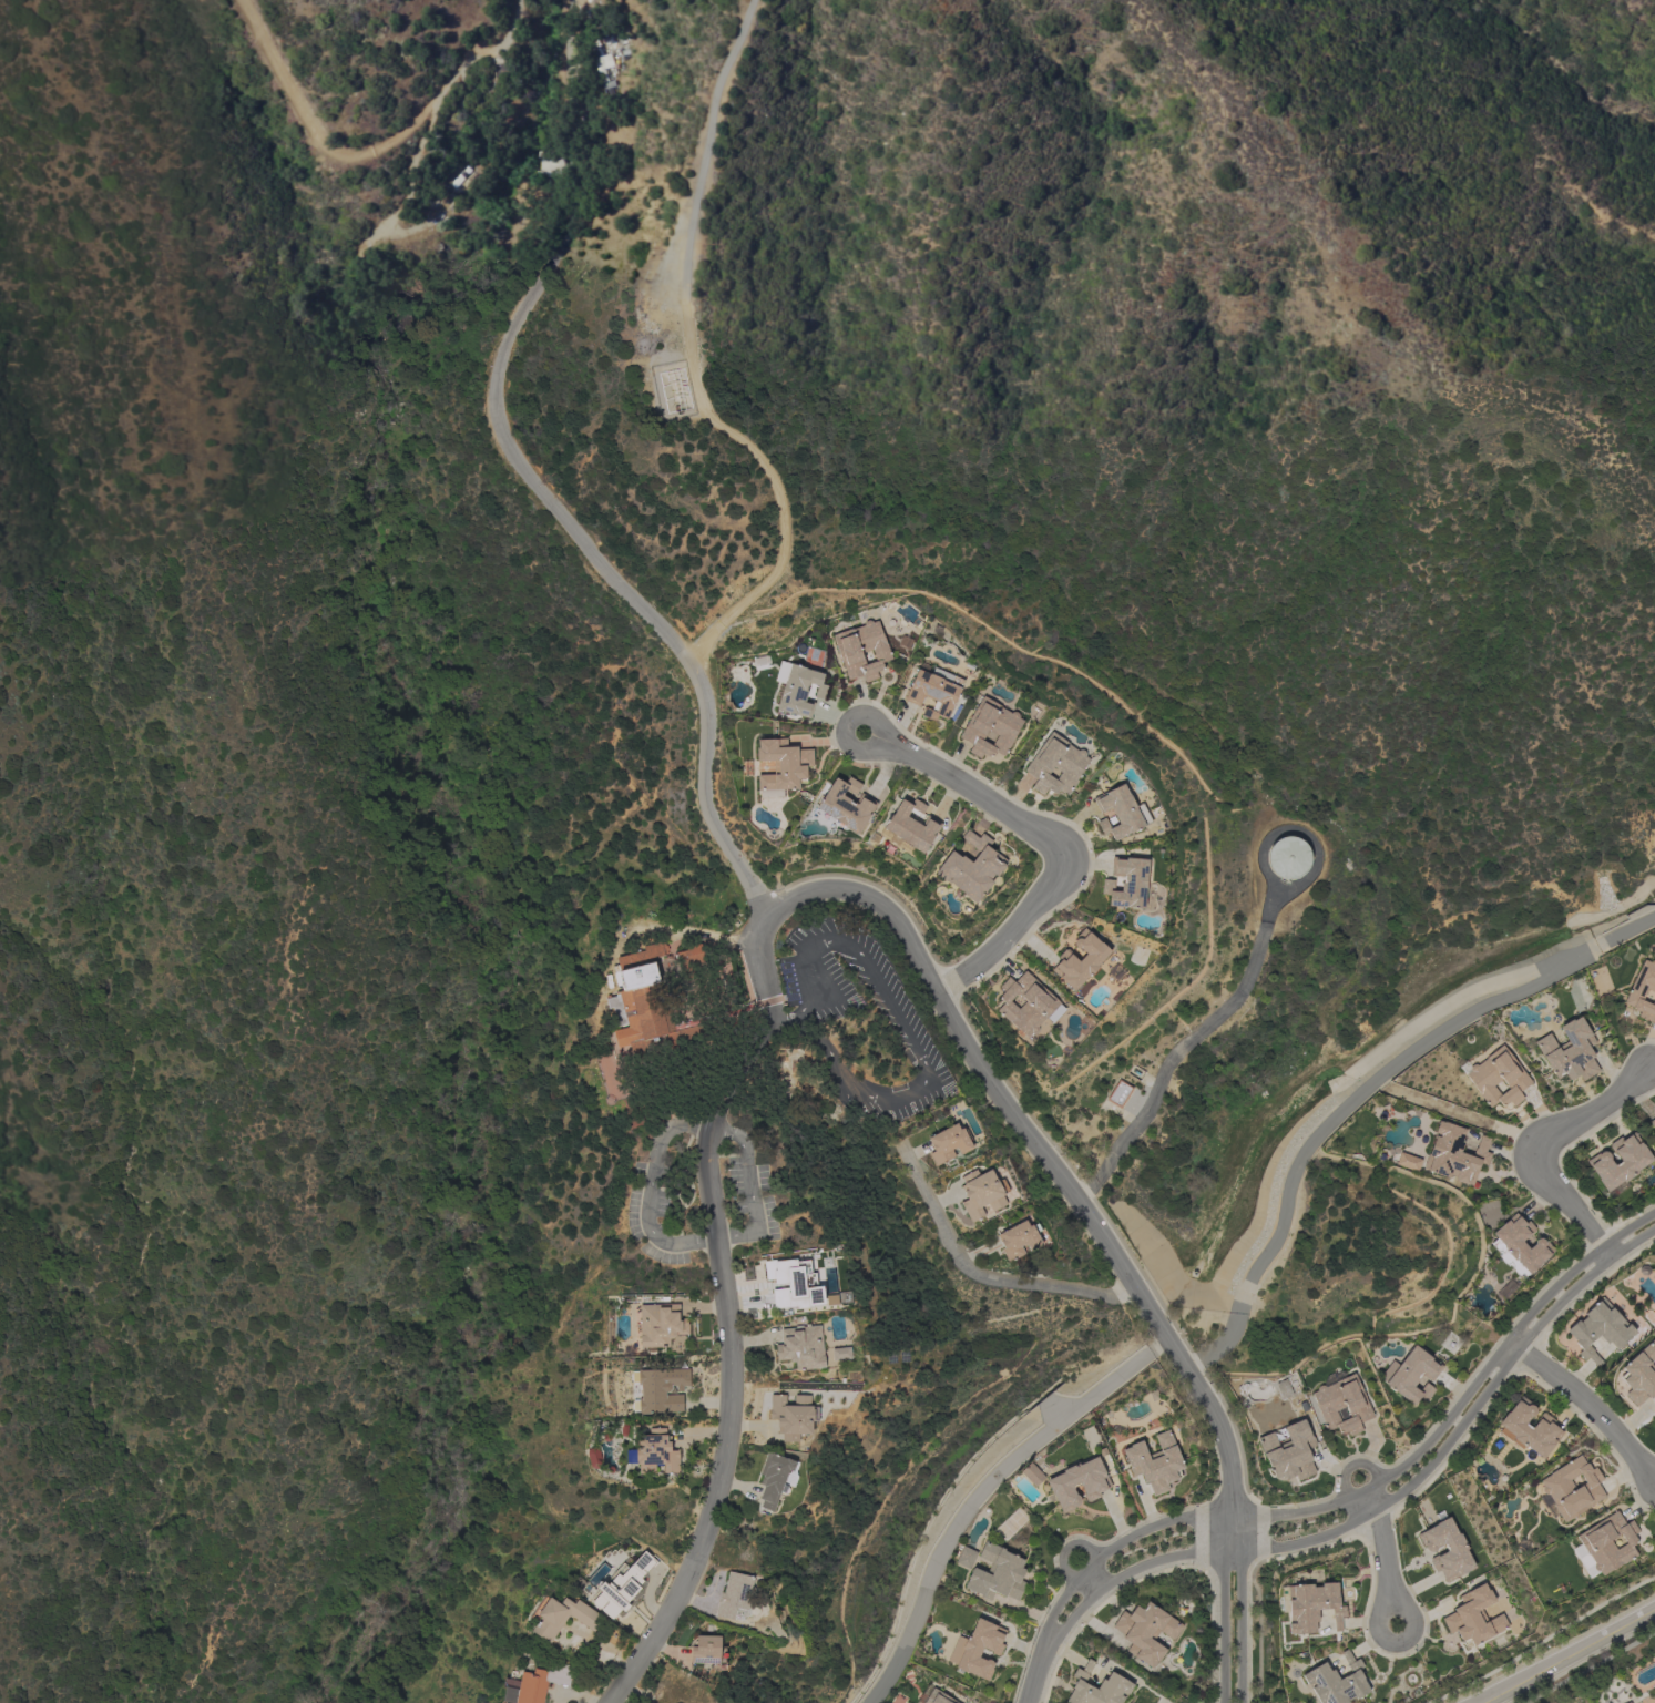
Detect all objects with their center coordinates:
road: (380, 151)
building: (550, 163)
road: (699, 361)
road: (525, 469)
building: (862, 651)
building: (800, 691)
building: (933, 693)
road: (842, 726)
building: (990, 728)
building: (1056, 765)
building: (781, 766)
building: (846, 805)
building: (1121, 813)
building: (911, 826)
road: (1054, 843)
building: (1288, 857)
building: (972, 867)
building: (1126, 883)
building: (689, 958)
building: (1081, 960)
building: (1642, 991)
building: (1028, 1003)
building: (643, 1006)
road: (773, 1028)
road: (901, 1031)
building: (1569, 1051)
road: (1166, 1067)
building: (1496, 1078)
road: (725, 1091)
road: (1361, 1091)
building: (1118, 1093)
building: (1654, 1109)
building: (1652, 1122)
building: (948, 1143)
road: (1535, 1146)
road: (1038, 1152)
building: (1454, 1154)
building: (1407, 1162)
building: (1632, 1163)
road: (750, 1189)
building: (981, 1193)
road: (648, 1196)
building: (1019, 1240)
building: (1519, 1246)
road: (983, 1279)
building: (793, 1283)
building: (660, 1325)
building: (1598, 1329)
building: (801, 1346)
building: (840, 1354)
building: (1411, 1375)
building: (1639, 1375)
building: (658, 1390)
building: (1341, 1403)
road: (1586, 1405)
building: (793, 1416)
building: (1529, 1428)
building: (654, 1452)
building: (1289, 1452)
building: (1155, 1462)
road: (1350, 1465)
building: (1032, 1473)
building: (776, 1479)
road: (1379, 1481)
building: (1094, 1485)
building: (1572, 1488)
road: (979, 1490)
road: (1392, 1496)
road: (715, 1505)
building: (1605, 1544)
road: (1064, 1550)
building: (1447, 1550)
road: (1383, 1557)
building: (966, 1558)
building: (997, 1574)
road: (1092, 1581)
building: (622, 1585)
building: (735, 1594)
building: (1311, 1607)
road: (1220, 1608)
road: (1238, 1608)
building: (561, 1617)
building: (1473, 1618)
building: (1146, 1632)
road: (1541, 1640)
building: (977, 1649)
building: (707, 1651)
road: (1564, 1653)
road: (1038, 1666)
road: (1590, 1666)
building: (1337, 1682)
building: (535, 1684)
building: (1097, 1687)
building: (932, 1696)
building: (1627, 1702)
building: (1630, 1702)

